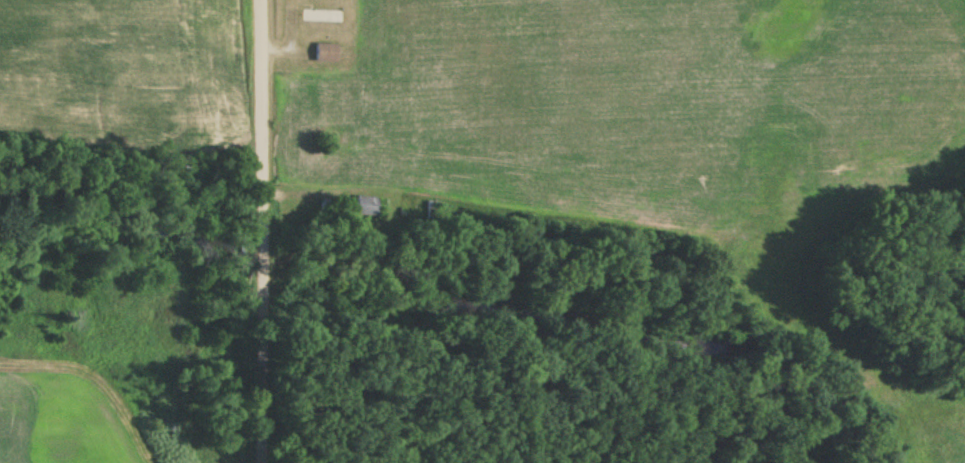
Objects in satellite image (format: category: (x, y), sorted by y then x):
building: (321, 17)
building: (325, 54)
building: (325, 206)
building: (369, 207)
building: (432, 210)
road: (264, 231)

